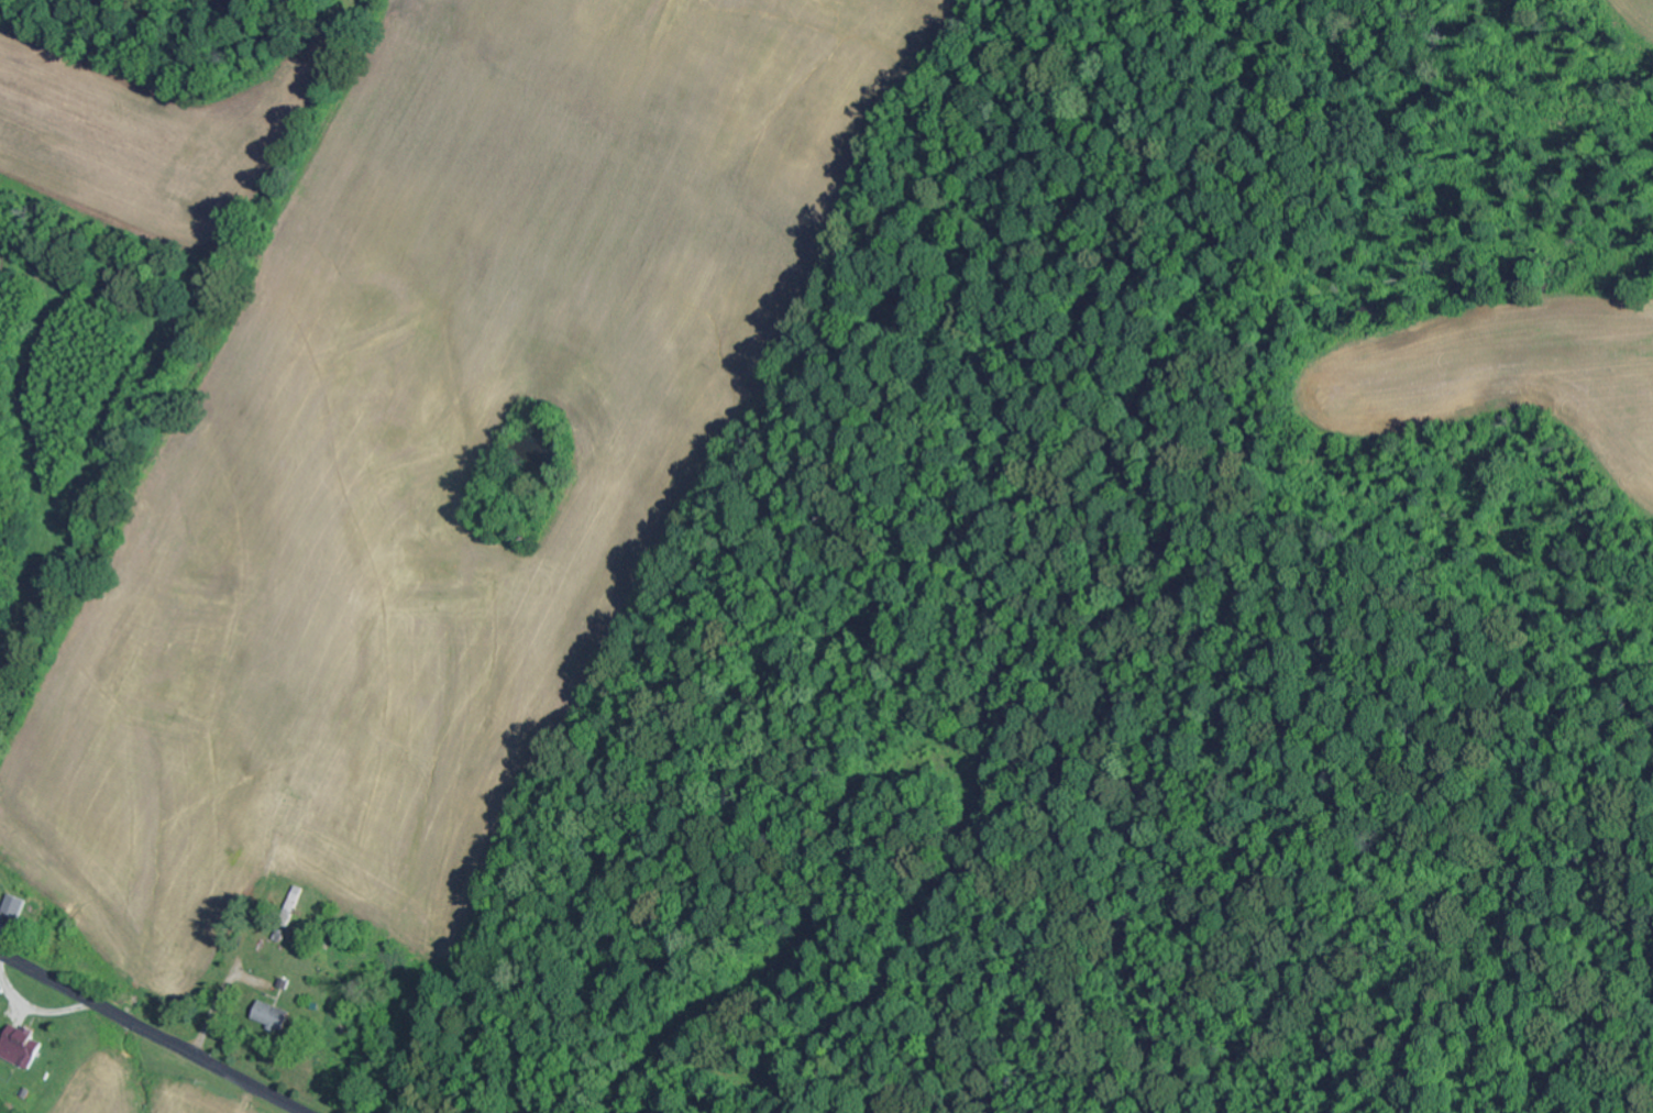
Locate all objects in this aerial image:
building: (294, 906)
building: (282, 1007)
road: (153, 1033)
building: (22, 1047)

